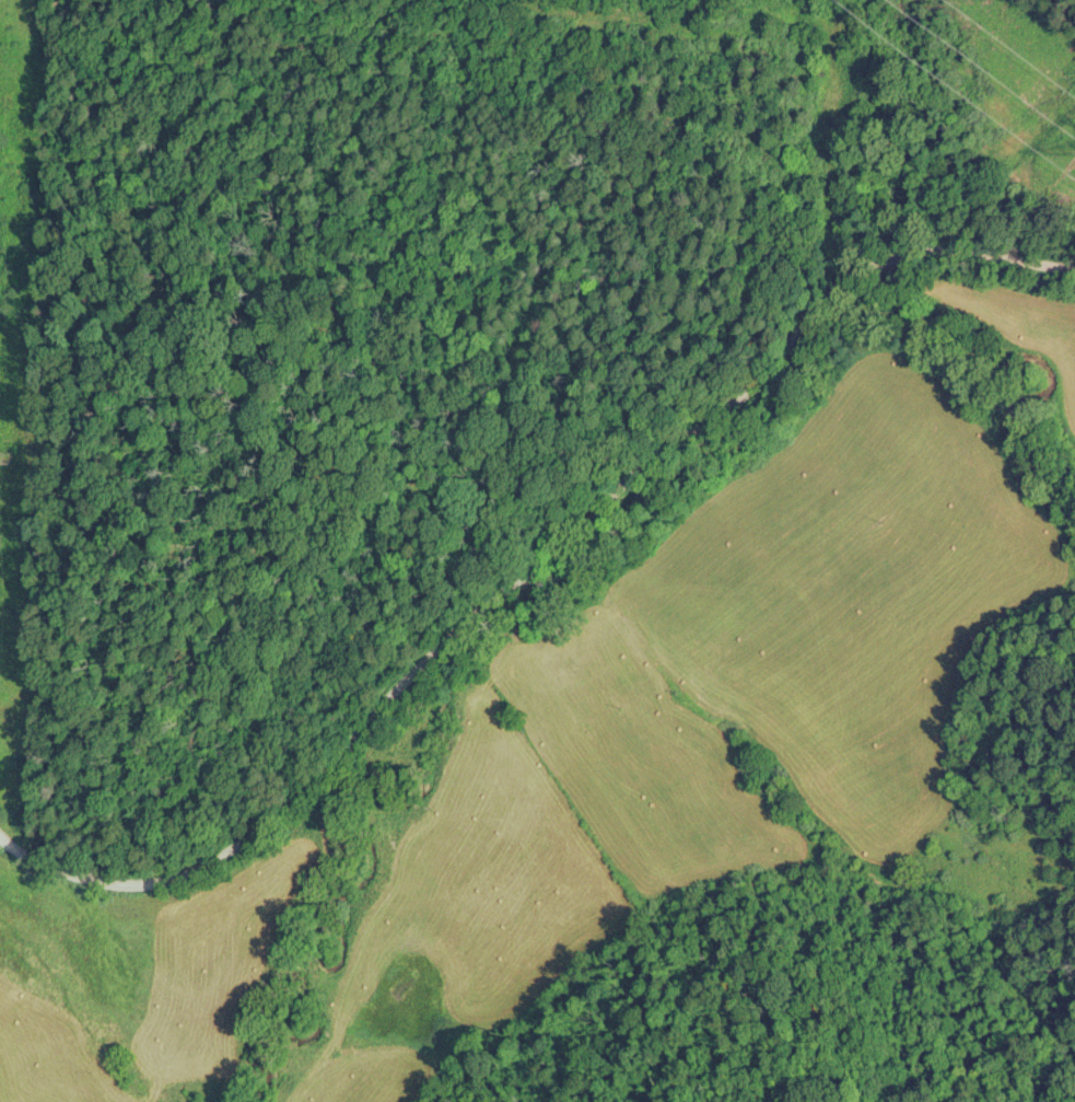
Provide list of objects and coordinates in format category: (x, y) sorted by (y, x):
power tower: (8, 456)
road: (545, 602)

